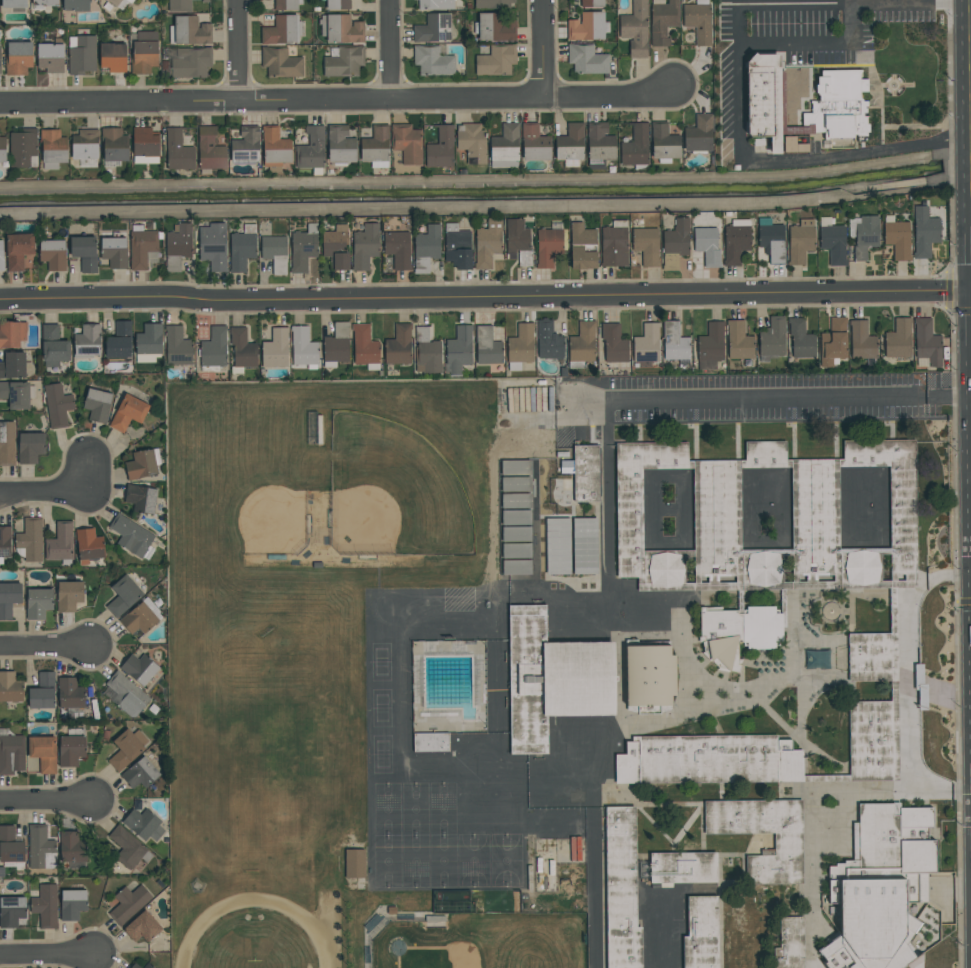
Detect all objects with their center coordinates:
building: (206, 1)
building: (120, 3)
building: (592, 3)
road: (772, 3)
building: (13, 4)
building: (43, 4)
building: (287, 4)
building: (337, 4)
building: (493, 4)
building: (76, 5)
building: (436, 5)
building: (179, 6)
building: (663, 21)
building: (698, 21)
building: (586, 27)
building: (433, 28)
building: (494, 28)
building: (635, 28)
building: (341, 29)
building: (282, 30)
building: (189, 31)
road: (970, 31)
road: (543, 49)
road: (392, 50)
road: (970, 50)
building: (144, 52)
road: (239, 52)
building: (81, 54)
building: (113, 56)
building: (50, 57)
building: (18, 58)
building: (0, 59)
building: (587, 59)
building: (432, 60)
building: (496, 60)
building: (344, 61)
building: (191, 62)
building: (281, 62)
road: (736, 83)
road: (336, 101)
building: (764, 101)
building: (783, 108)
building: (840, 109)
road: (883, 126)
road: (916, 127)
building: (699, 134)
building: (407, 143)
building: (471, 143)
building: (534, 143)
building: (664, 143)
building: (340, 144)
building: (570, 144)
building: (145, 145)
building: (599, 145)
building: (114, 146)
building: (246, 146)
building: (635, 146)
building: (85, 147)
building: (376, 147)
building: (505, 147)
building: (275, 148)
building: (440, 148)
building: (23, 149)
building: (53, 149)
building: (3, 150)
building: (178, 150)
building: (311, 150)
building: (210, 151)
building: (925, 232)
building: (863, 234)
building: (897, 238)
building: (771, 240)
building: (518, 241)
building: (736, 241)
building: (800, 241)
building: (674, 242)
building: (832, 242)
building: (487, 243)
building: (549, 244)
building: (614, 244)
building: (141, 246)
building: (178, 246)
building: (213, 246)
building: (336, 246)
building: (365, 246)
building: (707, 246)
building: (457, 247)
building: (582, 247)
building: (242, 248)
building: (303, 248)
building: (426, 248)
building: (644, 248)
building: (398, 249)
building: (18, 250)
building: (114, 252)
building: (85, 253)
building: (52, 254)
building: (275, 254)
building: (1, 256)
road: (485, 298)
building: (12, 334)
building: (772, 339)
building: (801, 339)
building: (898, 339)
building: (88, 340)
building: (549, 340)
building: (119, 341)
building: (739, 341)
building: (862, 341)
building: (675, 342)
building: (834, 342)
building: (148, 343)
building: (614, 343)
building: (582, 344)
building: (647, 344)
building: (927, 344)
building: (336, 345)
building: (398, 345)
building: (53, 346)
building: (177, 346)
building: (487, 346)
building: (520, 346)
building: (710, 346)
building: (365, 347)
building: (304, 348)
building: (275, 349)
building: (214, 350)
building: (242, 350)
building: (458, 350)
building: (427, 352)
building: (15, 366)
building: (17, 394)
road: (773, 397)
building: (513, 399)
parking lot: (750, 400)
building: (57, 405)
building: (97, 405)
building: (128, 412)
road: (893, 430)
road: (640, 434)
road: (836, 440)
road: (795, 441)
road: (738, 442)
road: (696, 443)
building: (7, 444)
building: (30, 447)
building: (142, 464)
building: (584, 473)
road: (61, 492)
road: (609, 495)
building: (141, 498)
building: (904, 508)
building: (805, 509)
building: (630, 510)
building: (516, 517)
building: (516, 534)
building: (132, 537)
building: (30, 539)
building: (4, 543)
building: (60, 544)
building: (89, 545)
building: (572, 546)
building: (516, 551)
building: (517, 567)
building: (69, 596)
building: (123, 596)
building: (9, 598)
road: (823, 602)
building: (38, 603)
road: (852, 611)
road: (821, 612)
road: (848, 612)
building: (141, 617)
road: (811, 618)
road: (823, 622)
building: (763, 628)
building: (723, 636)
road: (45, 649)
building: (870, 657)
road: (911, 664)
building: (139, 668)
building: (650, 677)
building: (529, 679)
building: (581, 679)
building: (10, 687)
building: (43, 691)
road: (853, 692)
building: (71, 695)
building: (125, 695)
road: (814, 700)
road: (800, 707)
road: (719, 728)
road: (801, 739)
building: (871, 739)
building: (431, 742)
building: (71, 748)
building: (127, 748)
building: (11, 753)
building: (43, 753)
building: (710, 760)
building: (140, 773)
road: (722, 792)
road: (952, 792)
road: (46, 802)
road: (671, 803)
road: (815, 821)
building: (143, 824)
road: (655, 824)
road: (686, 827)
road: (703, 829)
building: (789, 845)
building: (129, 847)
building: (11, 848)
building: (41, 848)
building: (73, 850)
road: (743, 856)
building: (354, 863)
road: (730, 881)
building: (623, 889)
building: (888, 892)
track: (253, 902)
building: (693, 902)
building: (129, 903)
building: (72, 904)
road: (596, 904)
building: (45, 905)
building: (12, 911)
building: (142, 927)
track: (333, 931)
building: (792, 933)
road: (47, 957)
building: (789, 958)
road: (922, 962)
building: (135, 966)
building: (148, 966)

